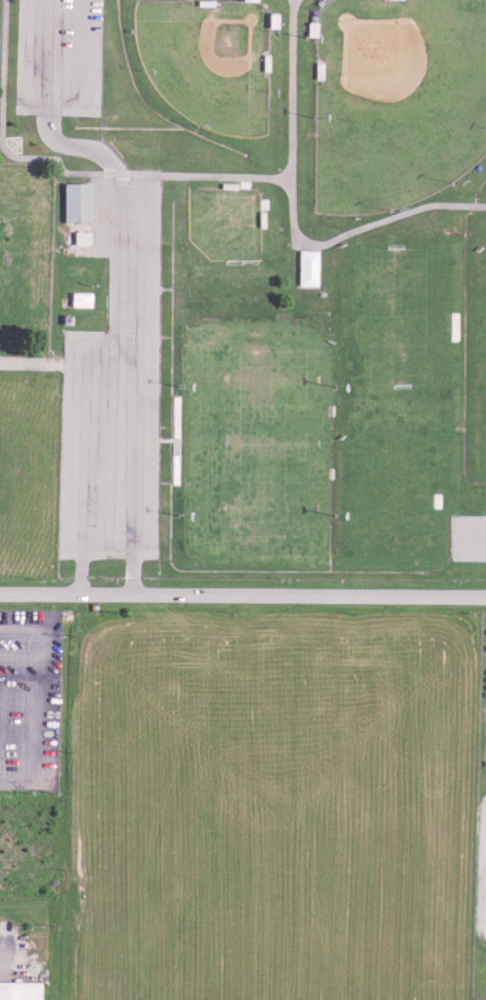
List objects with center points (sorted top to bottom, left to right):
park: (212, 61)
road: (294, 90)
park: (397, 101)
road: (51, 105)
road: (73, 146)
road: (69, 173)
park: (222, 221)
road: (363, 231)
building: (246, 287)
park: (485, 339)
road: (44, 362)
road: (87, 369)
park: (252, 439)
road: (131, 468)
road: (242, 595)
building: (20, 989)

